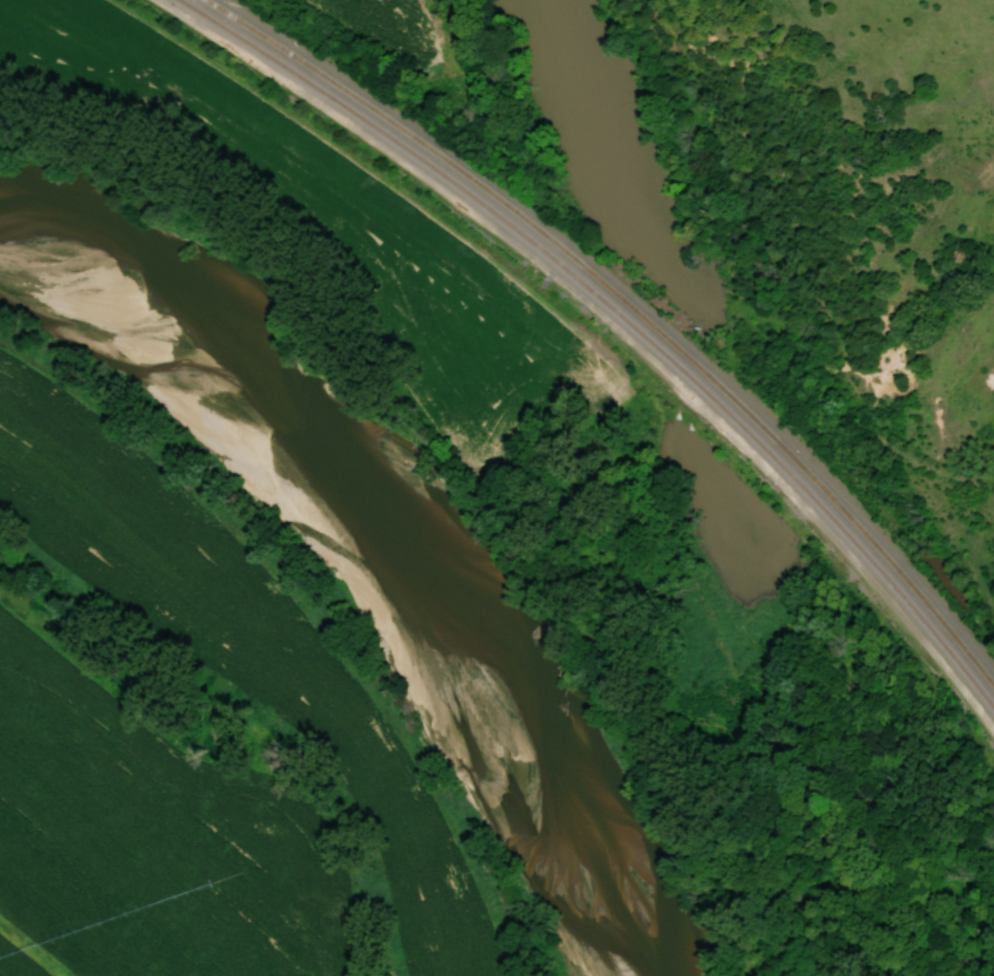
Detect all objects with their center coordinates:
railway: (632, 307)
railway: (622, 316)
river: (388, 542)

